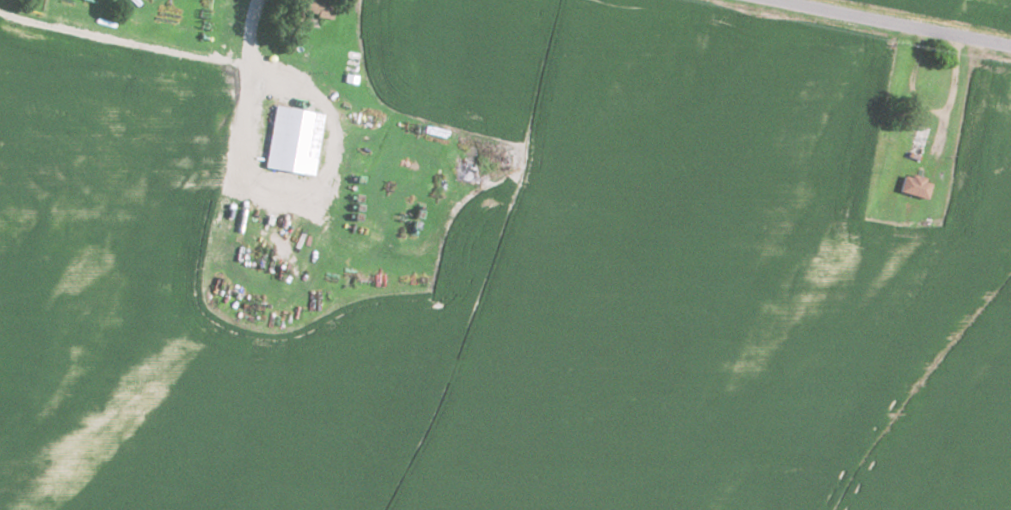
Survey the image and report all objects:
building: (323, 8)
road: (892, 23)
road: (264, 63)
building: (298, 139)
building: (920, 186)

